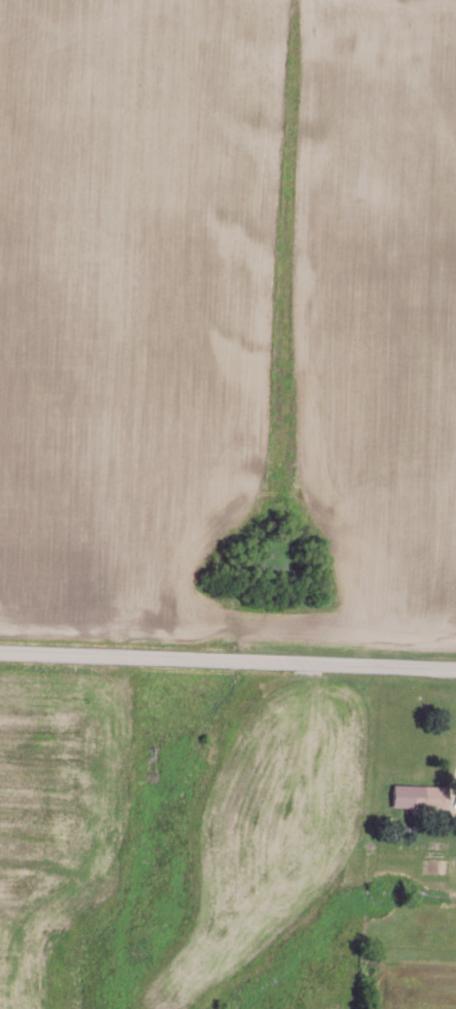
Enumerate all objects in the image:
road: (228, 659)
building: (421, 794)

